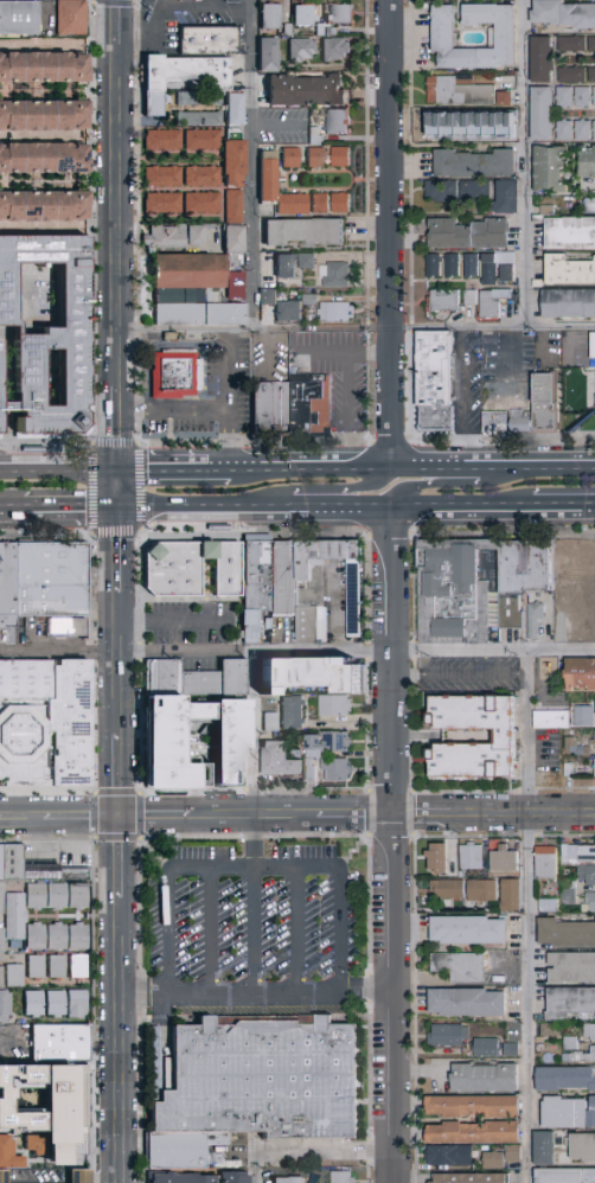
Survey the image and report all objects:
building: (302, 13)
building: (339, 13)
building: (561, 13)
building: (268, 14)
building: (69, 15)
building: (18, 18)
road: (121, 21)
parking lot: (190, 21)
building: (441, 36)
building: (211, 41)
building: (569, 43)
building: (590, 43)
building: (300, 47)
building: (333, 49)
building: (265, 52)
building: (539, 58)
building: (43, 68)
building: (188, 70)
building: (570, 73)
building: (590, 73)
building: (305, 89)
building: (455, 90)
building: (186, 97)
building: (503, 97)
building: (584, 98)
building: (567, 100)
building: (198, 111)
building: (43, 115)
building: (544, 116)
building: (335, 120)
building: (468, 121)
road: (280, 127)
building: (593, 129)
building: (231, 132)
building: (567, 134)
building: (586, 134)
building: (160, 138)
building: (200, 138)
building: (288, 155)
building: (313, 155)
building: (338, 155)
building: (43, 159)
building: (231, 162)
building: (473, 162)
road: (254, 165)
road: (527, 165)
building: (588, 165)
building: (552, 172)
building: (160, 174)
building: (199, 174)
building: (264, 174)
building: (456, 190)
building: (505, 196)
building: (160, 202)
building: (200, 202)
building: (318, 202)
building: (338, 202)
building: (289, 203)
building: (232, 204)
building: (43, 207)
building: (591, 210)
road: (121, 215)
building: (299, 230)
building: (194, 232)
building: (466, 232)
road: (394, 234)
building: (571, 235)
building: (162, 236)
building: (230, 237)
building: (305, 260)
building: (267, 264)
building: (283, 264)
building: (433, 264)
building: (450, 264)
building: (468, 264)
building: (497, 267)
building: (188, 274)
building: (570, 274)
building: (265, 294)
building: (443, 299)
building: (490, 301)
building: (192, 307)
building: (570, 307)
building: (286, 309)
building: (335, 311)
road: (358, 331)
building: (51, 332)
building: (593, 343)
road: (158, 346)
road: (571, 347)
road: (343, 352)
building: (494, 353)
road: (273, 356)
road: (231, 371)
building: (179, 373)
building: (439, 381)
building: (524, 385)
building: (4, 388)
road: (465, 399)
building: (497, 403)
building: (550, 403)
building: (273, 407)
building: (312, 407)
road: (347, 410)
road: (205, 413)
building: (524, 426)
road: (122, 428)
road: (494, 467)
road: (313, 468)
road: (62, 469)
road: (159, 469)
road: (213, 469)
road: (455, 486)
road: (123, 490)
road: (332, 490)
road: (563, 509)
road: (72, 510)
road: (11, 511)
road: (327, 511)
road: (122, 551)
building: (563, 562)
building: (175, 569)
building: (587, 569)
building: (230, 570)
building: (520, 576)
building: (260, 577)
building: (52, 580)
building: (286, 581)
building: (320, 583)
building: (8, 586)
building: (450, 590)
building: (351, 597)
building: (564, 608)
building: (532, 618)
road: (174, 624)
parking lot: (192, 624)
building: (248, 625)
building: (65, 627)
building: (594, 631)
road: (296, 656)
road: (121, 664)
building: (315, 674)
building: (582, 674)
building: (197, 679)
building: (594, 705)
building: (337, 706)
building: (294, 714)
building: (586, 717)
building: (550, 720)
building: (274, 723)
building: (46, 724)
road: (254, 737)
building: (506, 742)
building: (593, 744)
building: (578, 749)
building: (166, 750)
building: (315, 756)
building: (281, 761)
building: (594, 767)
building: (572, 770)
building: (590, 770)
road: (121, 778)
road: (297, 819)
traffic signals: (121, 820)
road: (396, 846)
building: (576, 855)
building: (440, 857)
building: (473, 857)
road: (121, 859)
building: (505, 862)
building: (12, 863)
building: (546, 863)
road: (251, 870)
building: (43, 872)
building: (76, 875)
building: (587, 875)
building: (448, 890)
building: (484, 891)
building: (569, 893)
building: (512, 895)
building: (38, 897)
building: (59, 897)
building: (81, 897)
building: (590, 897)
building: (4, 899)
building: (550, 906)
road: (252, 909)
parking lot: (254, 915)
building: (17, 917)
road: (527, 917)
building: (471, 931)
road: (295, 933)
building: (567, 933)
road: (210, 934)
building: (39, 938)
building: (59, 938)
building: (81, 938)
building: (4, 941)
building: (2, 959)
building: (38, 967)
building: (59, 967)
building: (81, 967)
building: (461, 967)
building: (571, 967)
building: (17, 977)
building: (2, 979)
road: (258, 998)
building: (468, 1002)
building: (570, 1002)
building: (36, 1004)
building: (58, 1004)
building: (79, 1005)
building: (6, 1008)
building: (549, 1030)
building: (590, 1031)
building: (449, 1035)
road: (122, 1040)
building: (63, 1044)
building: (571, 1044)
building: (488, 1048)
building: (513, 1050)
building: (580, 1057)
building: (11, 1070)
building: (66, 1075)
building: (486, 1079)
building: (565, 1079)
building: (265, 1085)
building: (30, 1088)
building: (5, 1089)
building: (475, 1107)
building: (4, 1108)
building: (568, 1113)
building: (64, 1114)
building: (6, 1131)
building: (476, 1133)
building: (38, 1145)
building: (582, 1146)
building: (73, 1149)
building: (545, 1149)
building: (184, 1153)
road: (307, 1153)
building: (514, 1155)
building: (9, 1156)
building: (450, 1156)
building: (495, 1160)
road: (255, 1169)
building: (565, 1176)
building: (5, 1177)
building: (82, 1177)
building: (199, 1178)
building: (344, 1178)
building: (473, 1178)
building: (290, 1182)

